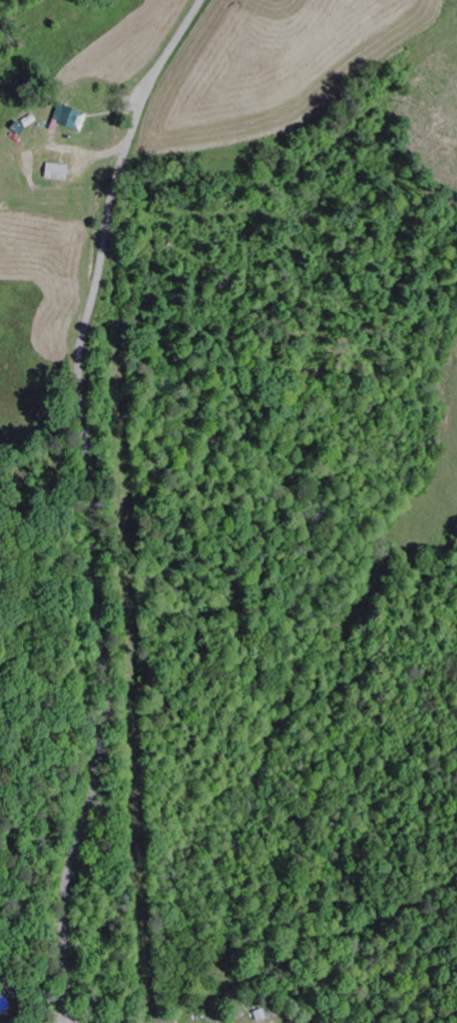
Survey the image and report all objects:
road: (92, 502)

